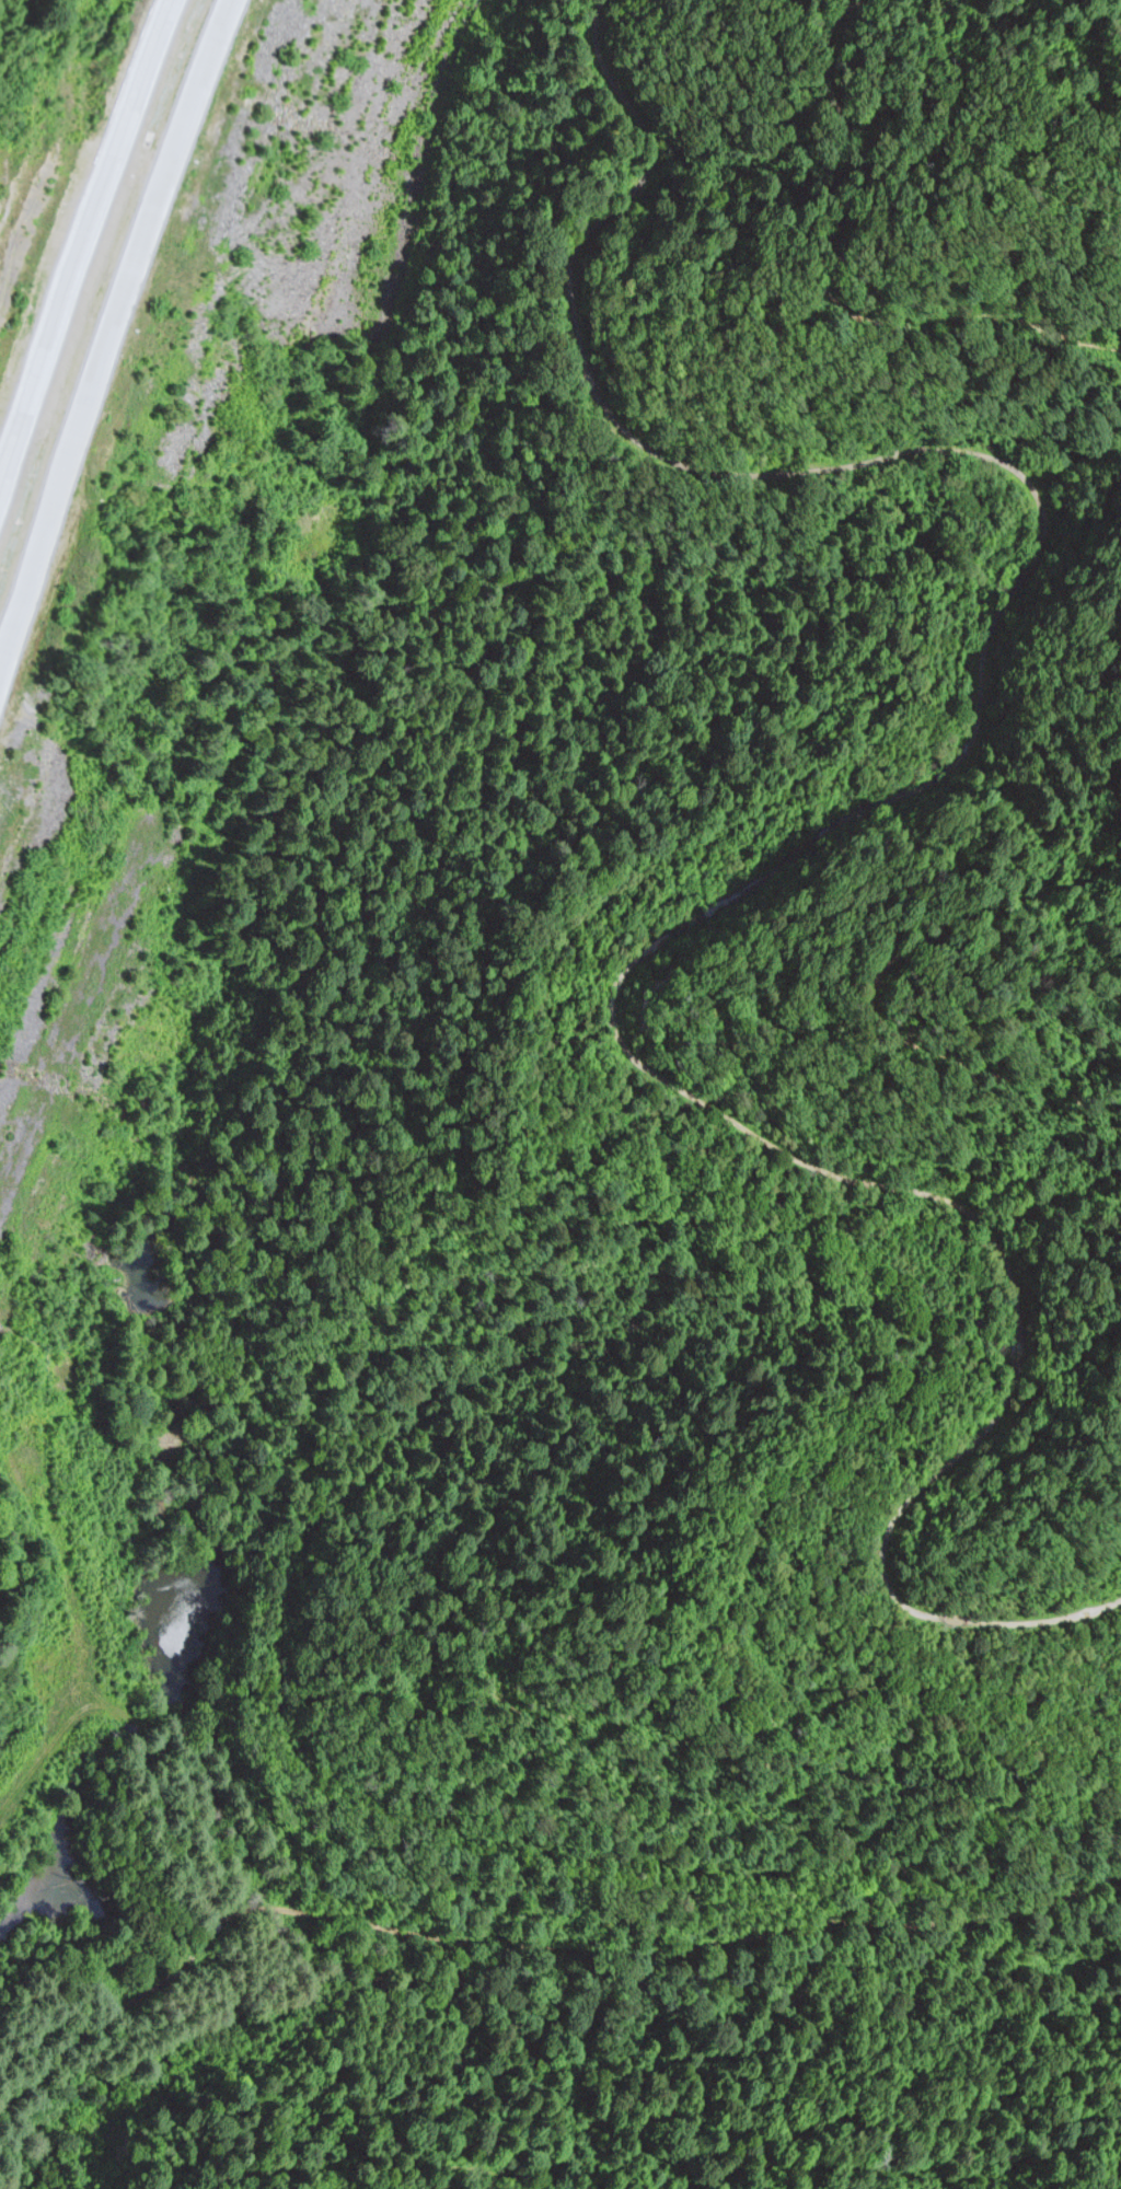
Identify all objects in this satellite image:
road: (84, 248)
road: (107, 321)
quarry: (96, 604)

